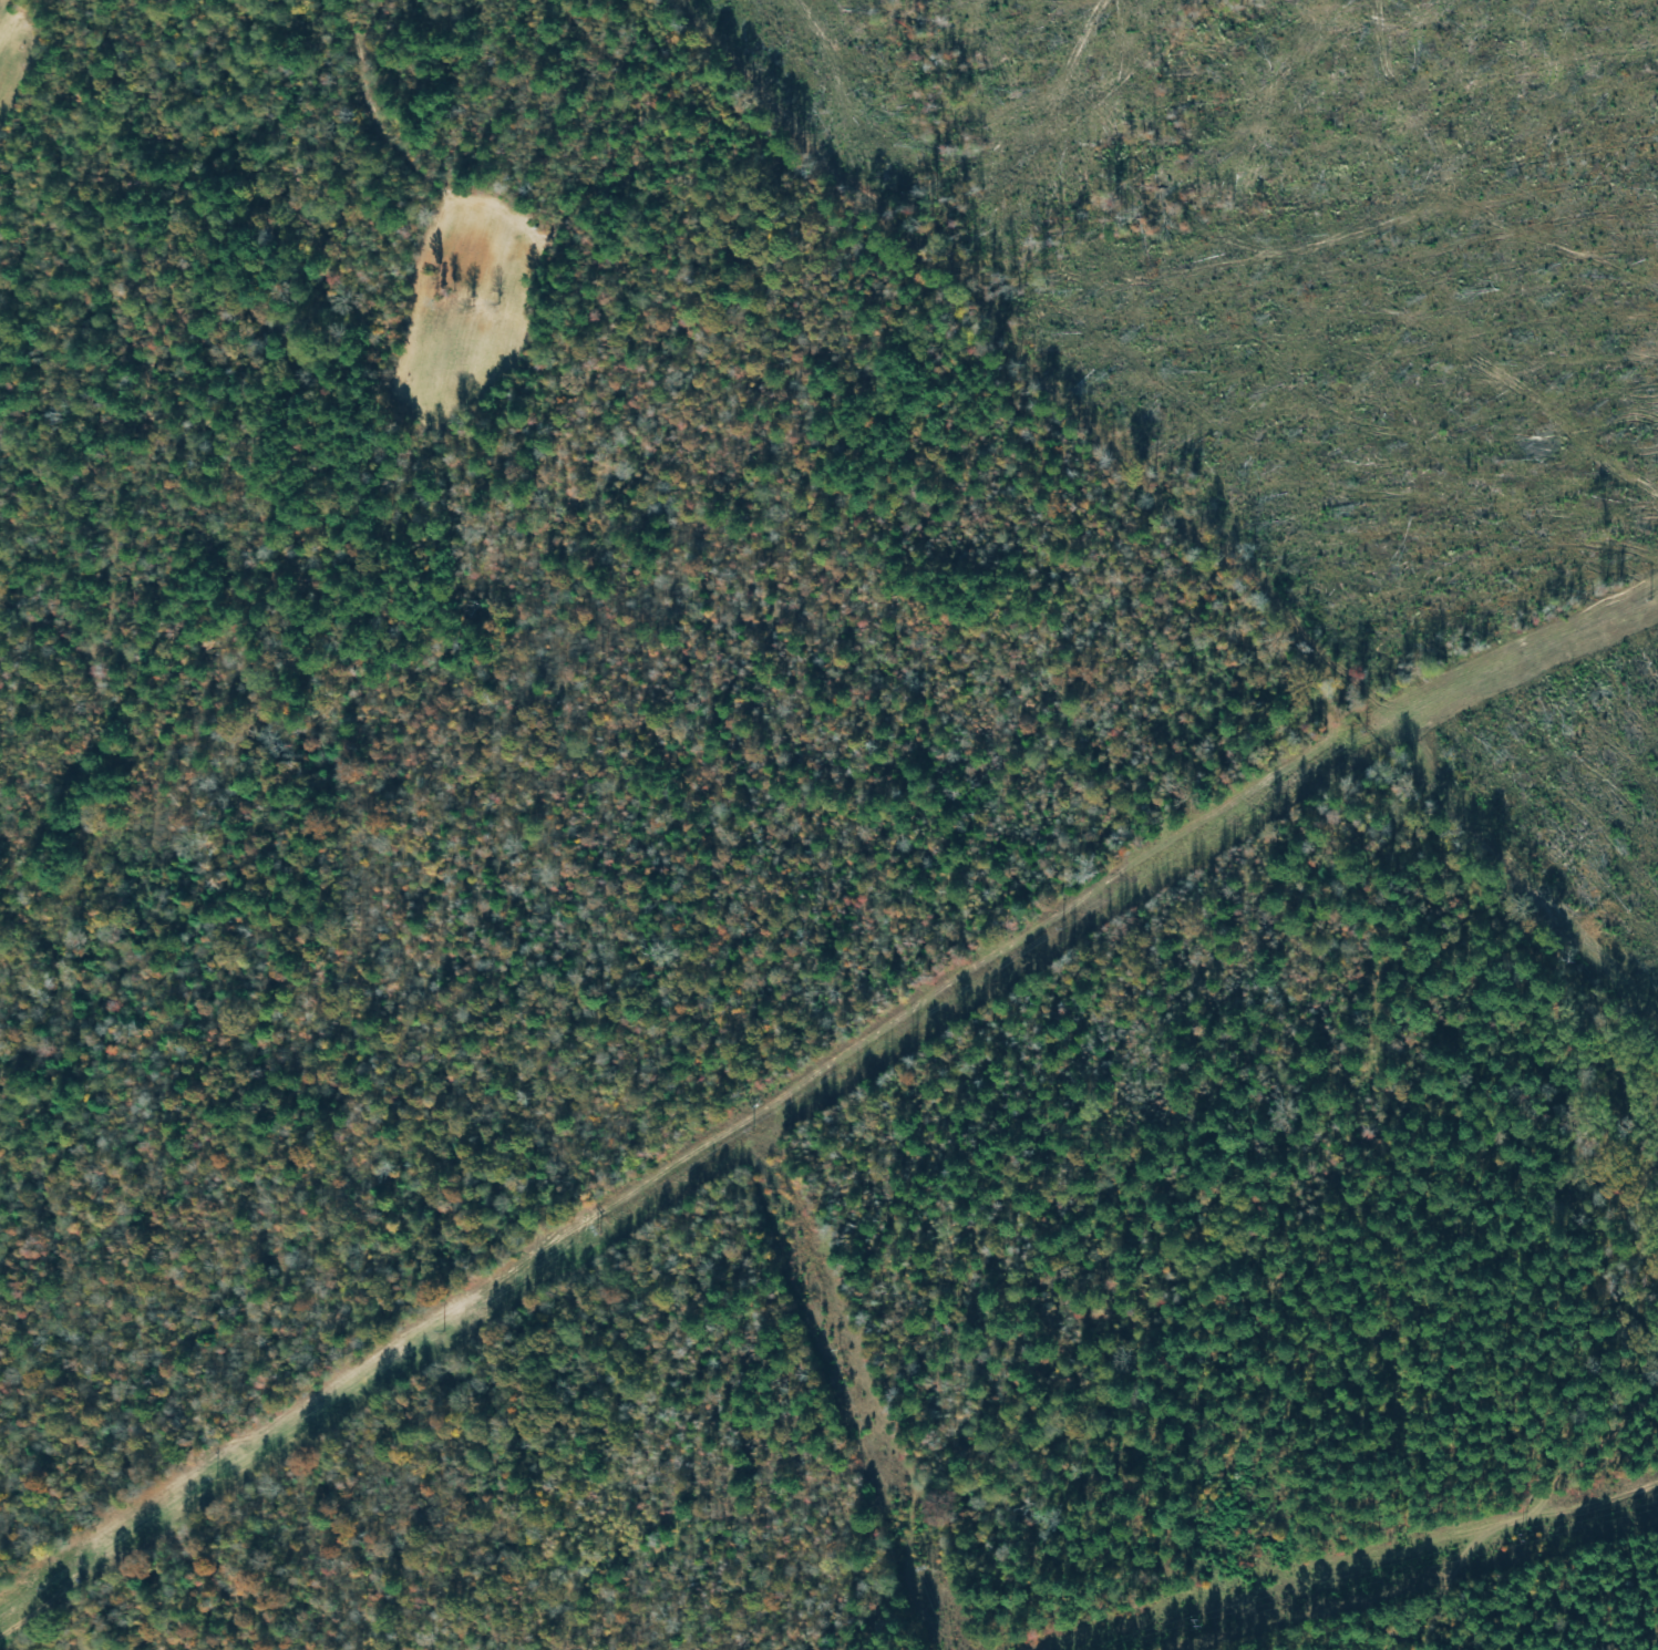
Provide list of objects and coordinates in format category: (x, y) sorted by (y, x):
power tower: (1526, 1539)
power tower: (1190, 1627)

